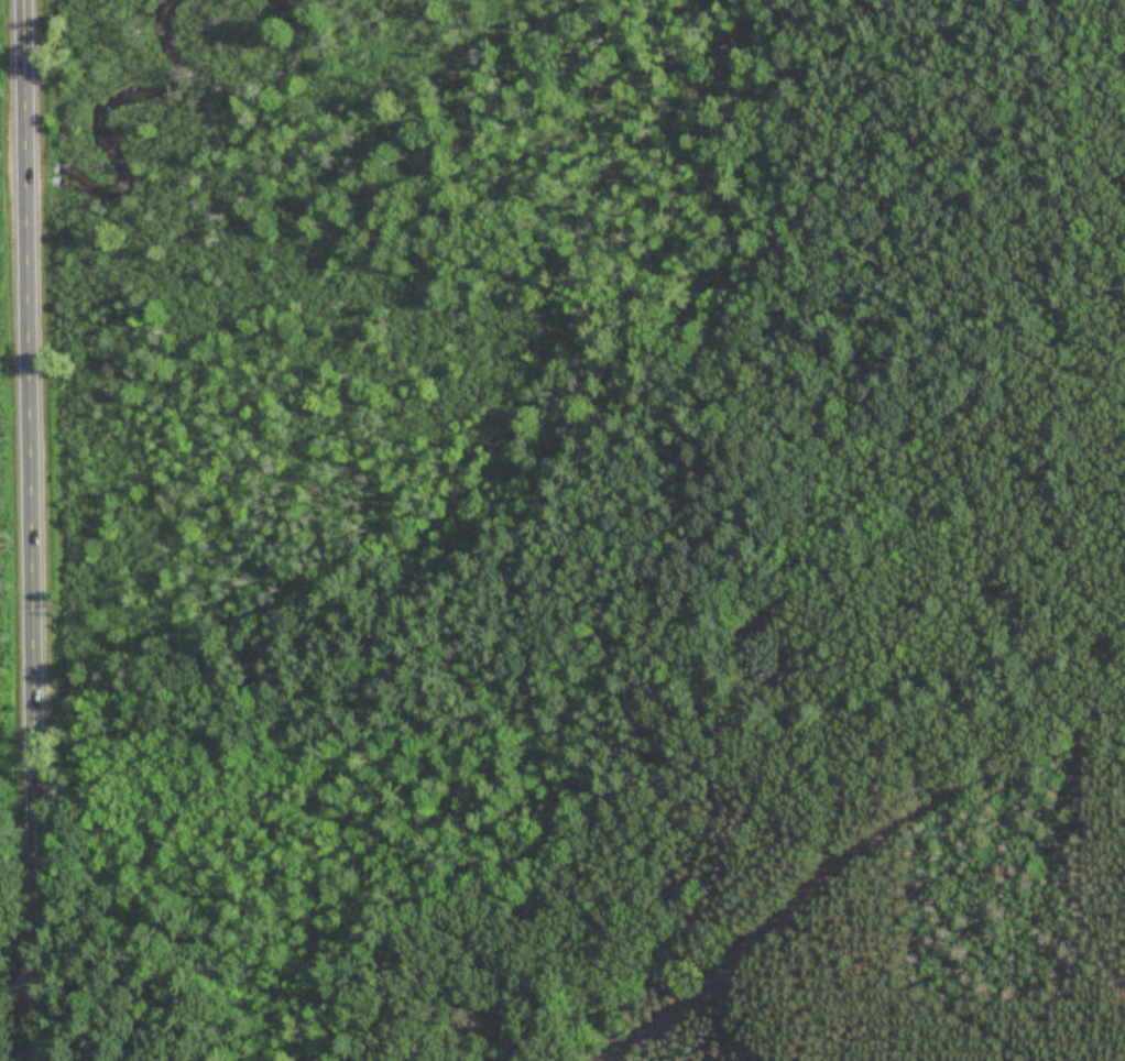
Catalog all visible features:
road: (30, 530)
road: (360, 670)
building: (739, 717)
road: (843, 863)
road: (805, 985)
road: (913, 986)
road: (1122, 1060)

